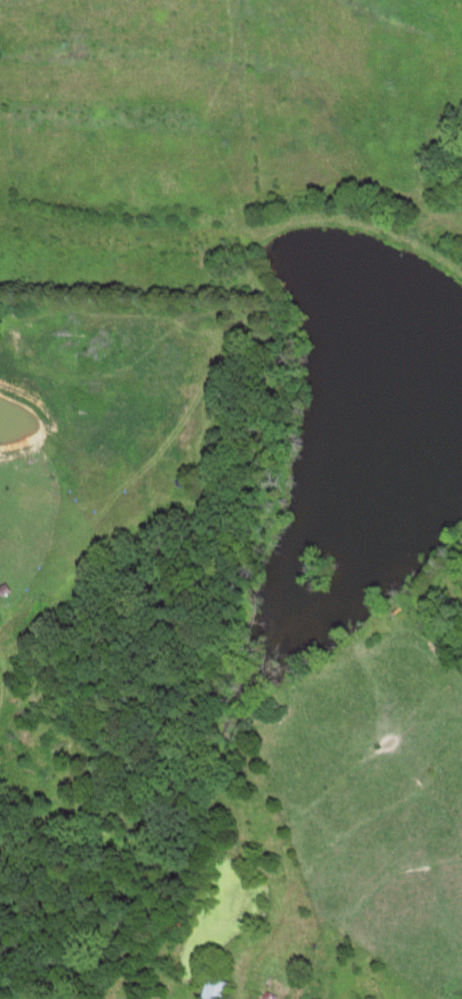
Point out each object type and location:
building: (215, 989)

